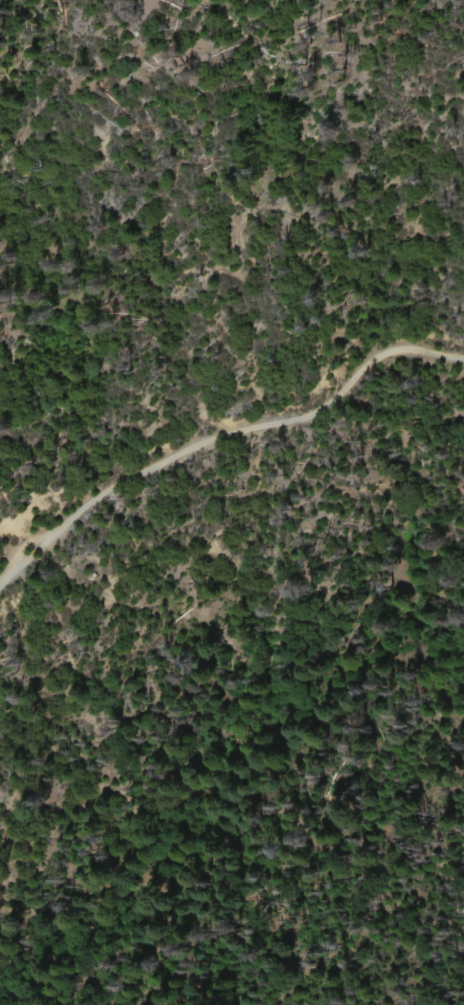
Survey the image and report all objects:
road: (208, 433)

